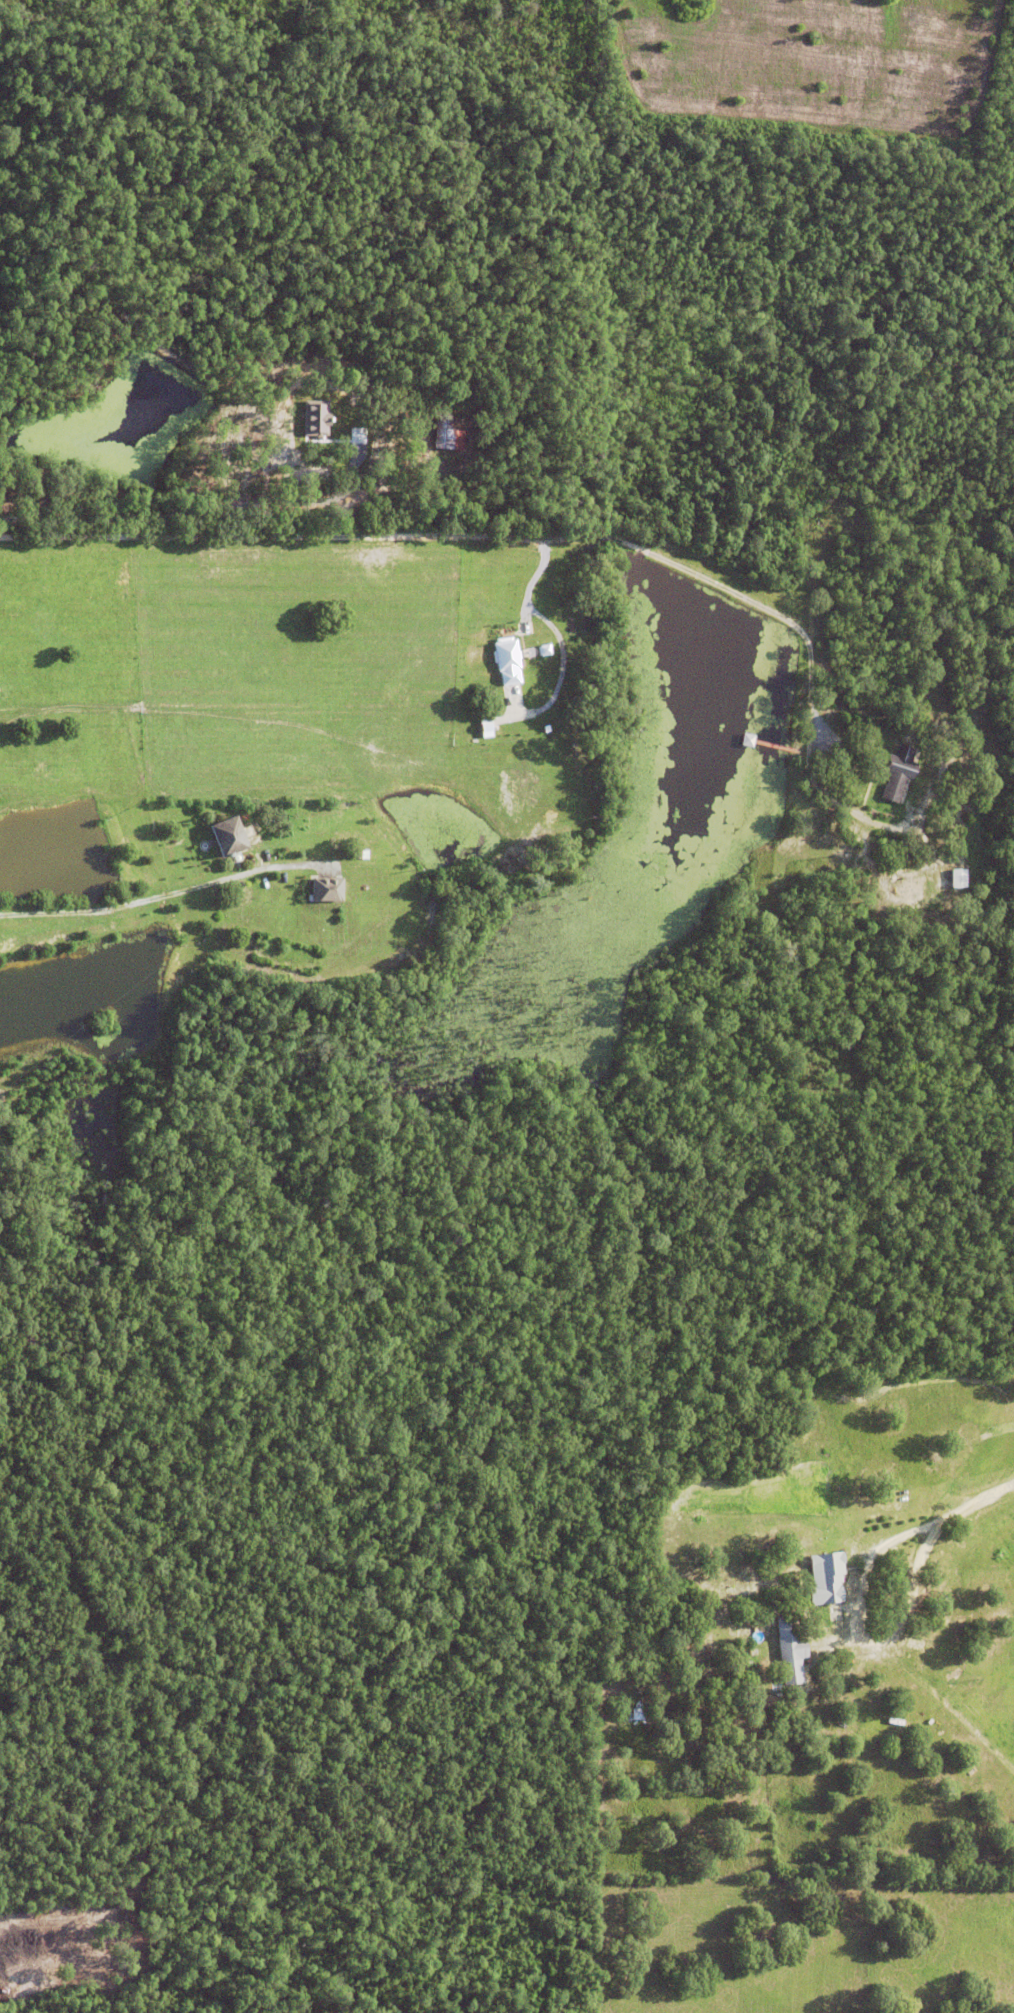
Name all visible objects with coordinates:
building: (315, 414)
building: (447, 432)
building: (360, 454)
building: (345, 463)
road: (542, 540)
building: (507, 659)
building: (745, 736)
building: (898, 770)
building: (923, 770)
building: (227, 831)
building: (358, 852)
building: (958, 875)
building: (325, 887)
road: (159, 894)
road: (979, 1498)
building: (825, 1577)
road: (851, 1635)
building: (789, 1649)
building: (637, 1713)
building: (855, 1846)

